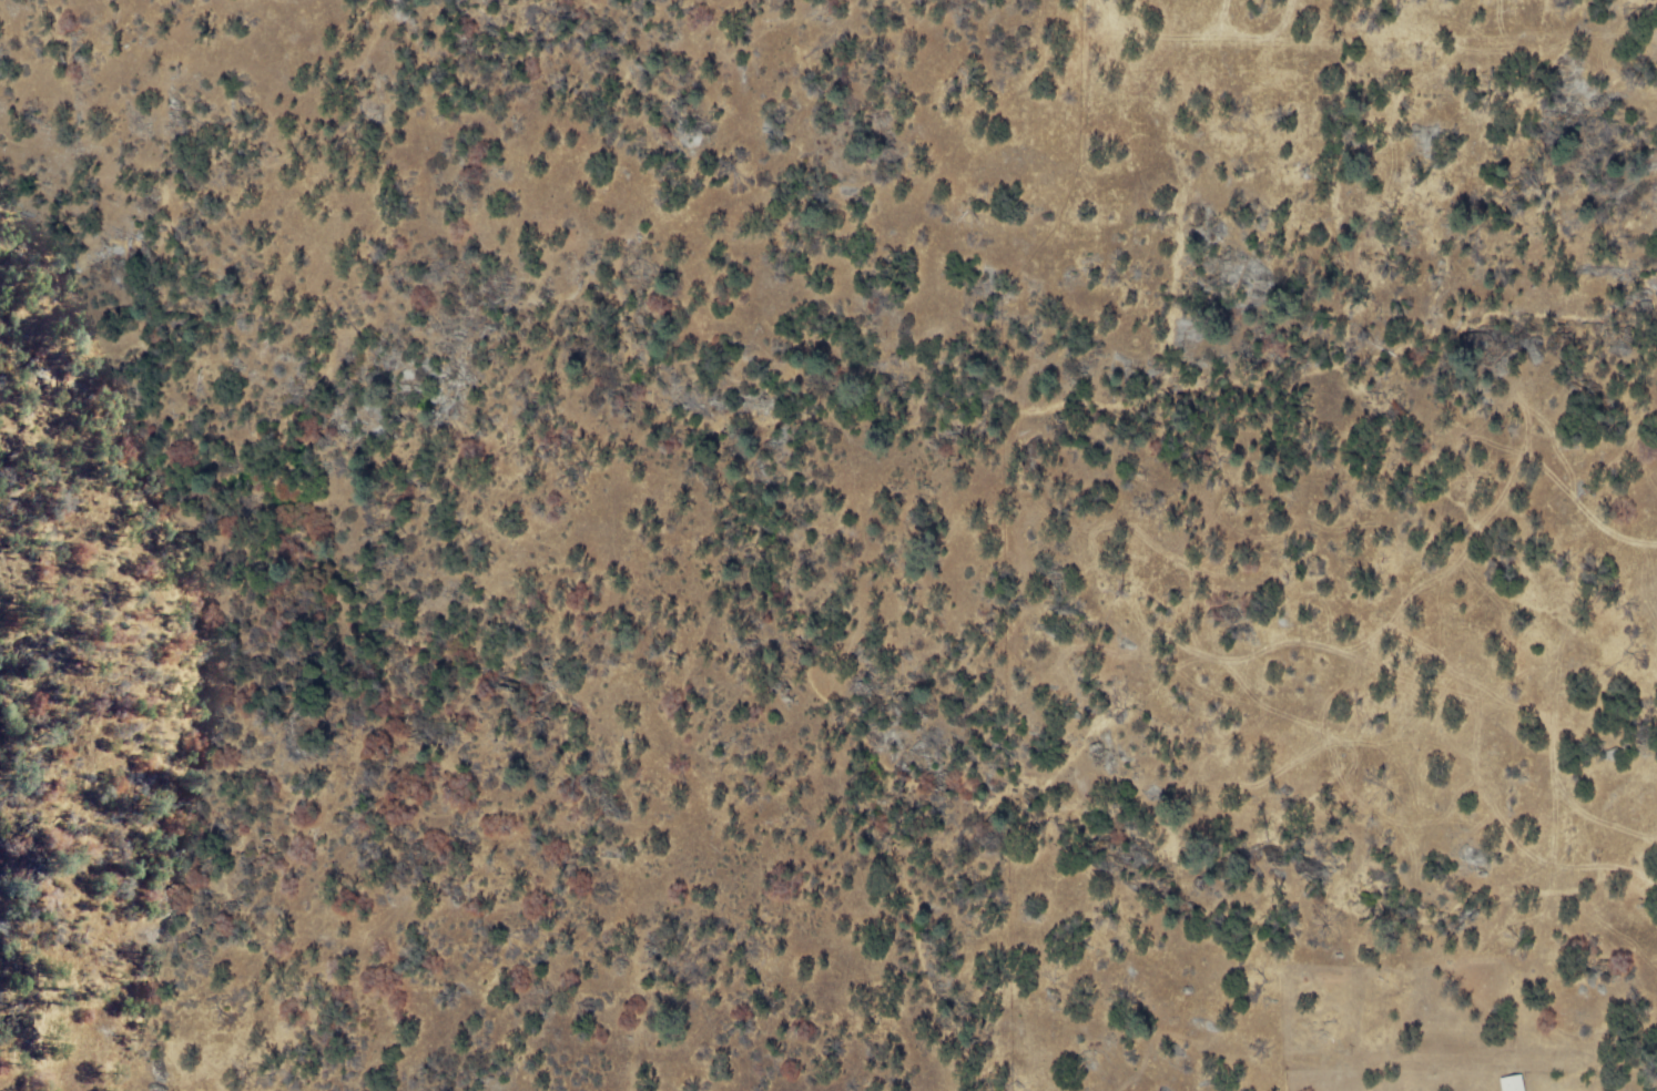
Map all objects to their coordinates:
building: (1516, 1083)

